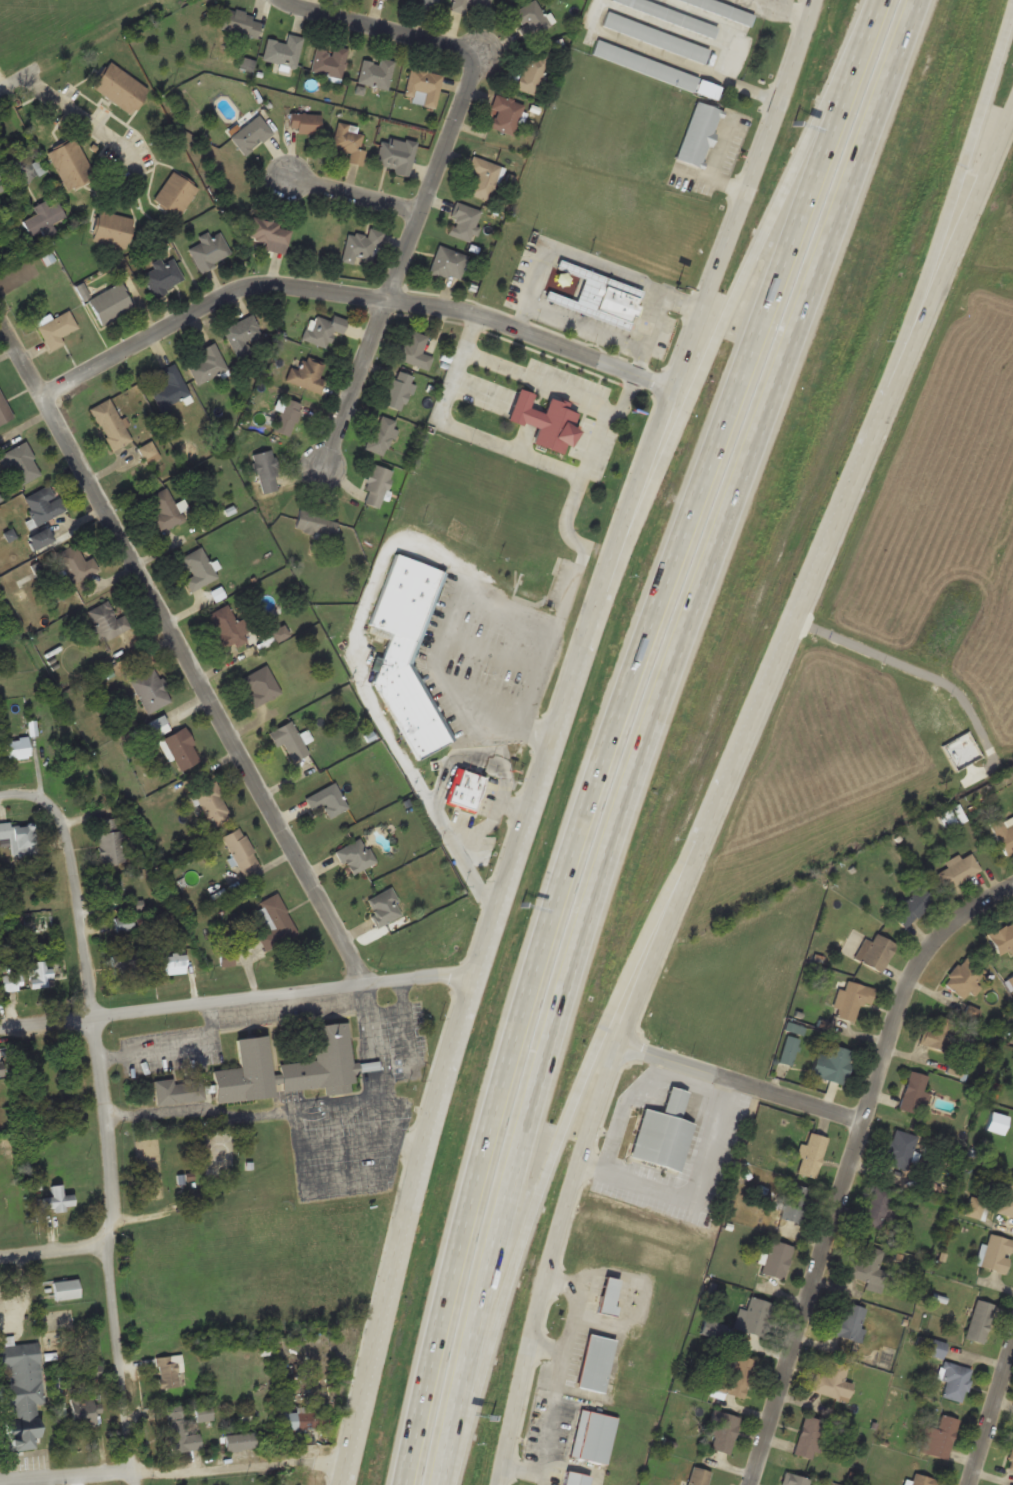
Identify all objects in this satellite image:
building: (429, 5)
building: (459, 5)
road: (799, 7)
building: (727, 8)
building: (672, 15)
building: (531, 18)
building: (240, 22)
building: (656, 36)
building: (283, 50)
building: (329, 61)
building: (646, 64)
building: (532, 71)
building: (376, 73)
road: (16, 79)
building: (423, 84)
building: (120, 87)
building: (506, 113)
road: (85, 117)
building: (305, 123)
building: (251, 134)
building: (699, 134)
building: (349, 143)
building: (396, 154)
building: (71, 164)
road: (436, 165)
building: (483, 176)
building: (2, 184)
building: (175, 194)
road: (354, 194)
building: (44, 217)
building: (463, 221)
building: (113, 229)
building: (270, 234)
building: (363, 245)
building: (210, 250)
road: (936, 253)
building: (448, 263)
building: (163, 276)
road: (349, 291)
building: (597, 297)
building: (110, 303)
building: (56, 328)
building: (324, 328)
building: (242, 329)
building: (415, 349)
building: (209, 364)
road: (705, 364)
building: (307, 374)
building: (170, 387)
building: (398, 390)
building: (4, 410)
building: (287, 416)
building: (543, 421)
building: (112, 423)
building: (382, 434)
building: (149, 451)
building: (20, 462)
building: (266, 470)
road: (634, 484)
building: (376, 486)
building: (43, 504)
building: (166, 511)
building: (315, 522)
building: (40, 538)
building: (76, 564)
building: (198, 569)
building: (537, 574)
road: (811, 577)
building: (108, 621)
building: (228, 626)
building: (403, 650)
road: (184, 651)
building: (260, 686)
building: (150, 690)
building: (158, 725)
road: (646, 732)
road: (611, 733)
building: (289, 740)
building: (17, 748)
building: (179, 748)
building: (464, 790)
road: (30, 794)
building: (327, 800)
building: (213, 804)
building: (1004, 833)
building: (19, 838)
building: (110, 840)
building: (241, 850)
building: (355, 856)
building: (959, 868)
building: (110, 885)
building: (384, 906)
building: (911, 906)
road: (80, 911)
building: (274, 921)
building: (123, 924)
building: (1003, 939)
building: (875, 952)
building: (226, 958)
building: (125, 962)
building: (173, 962)
building: (38, 974)
building: (964, 977)
building: (10, 982)
road: (236, 998)
building: (852, 999)
road: (402, 1010)
building: (937, 1034)
road: (178, 1049)
building: (788, 1049)
building: (832, 1063)
building: (290, 1066)
building: (0, 1070)
road: (741, 1082)
building: (178, 1091)
building: (913, 1091)
road: (384, 1098)
road: (567, 1116)
road: (200, 1117)
building: (997, 1119)
road: (722, 1128)
building: (663, 1133)
building: (900, 1149)
building: (811, 1155)
road: (848, 1164)
road: (301, 1165)
building: (56, 1198)
building: (1006, 1198)
building: (794, 1202)
building: (877, 1206)
road: (400, 1228)
road: (53, 1248)
road: (106, 1250)
building: (996, 1253)
building: (776, 1259)
road: (550, 1262)
building: (868, 1268)
building: (64, 1289)
building: (608, 1295)
building: (754, 1317)
building: (979, 1321)
building: (850, 1322)
building: (936, 1348)
building: (595, 1362)
building: (168, 1370)
building: (734, 1377)
building: (832, 1381)
building: (955, 1381)
building: (21, 1392)
building: (82, 1410)
building: (203, 1413)
building: (302, 1421)
road: (993, 1425)
building: (180, 1432)
building: (723, 1432)
building: (593, 1436)
building: (809, 1437)
building: (938, 1437)
building: (241, 1441)
building: (1010, 1460)
road: (175, 1471)
building: (698, 1476)
building: (575, 1478)
road: (345, 1479)
building: (795, 1480)
building: (923, 1480)

